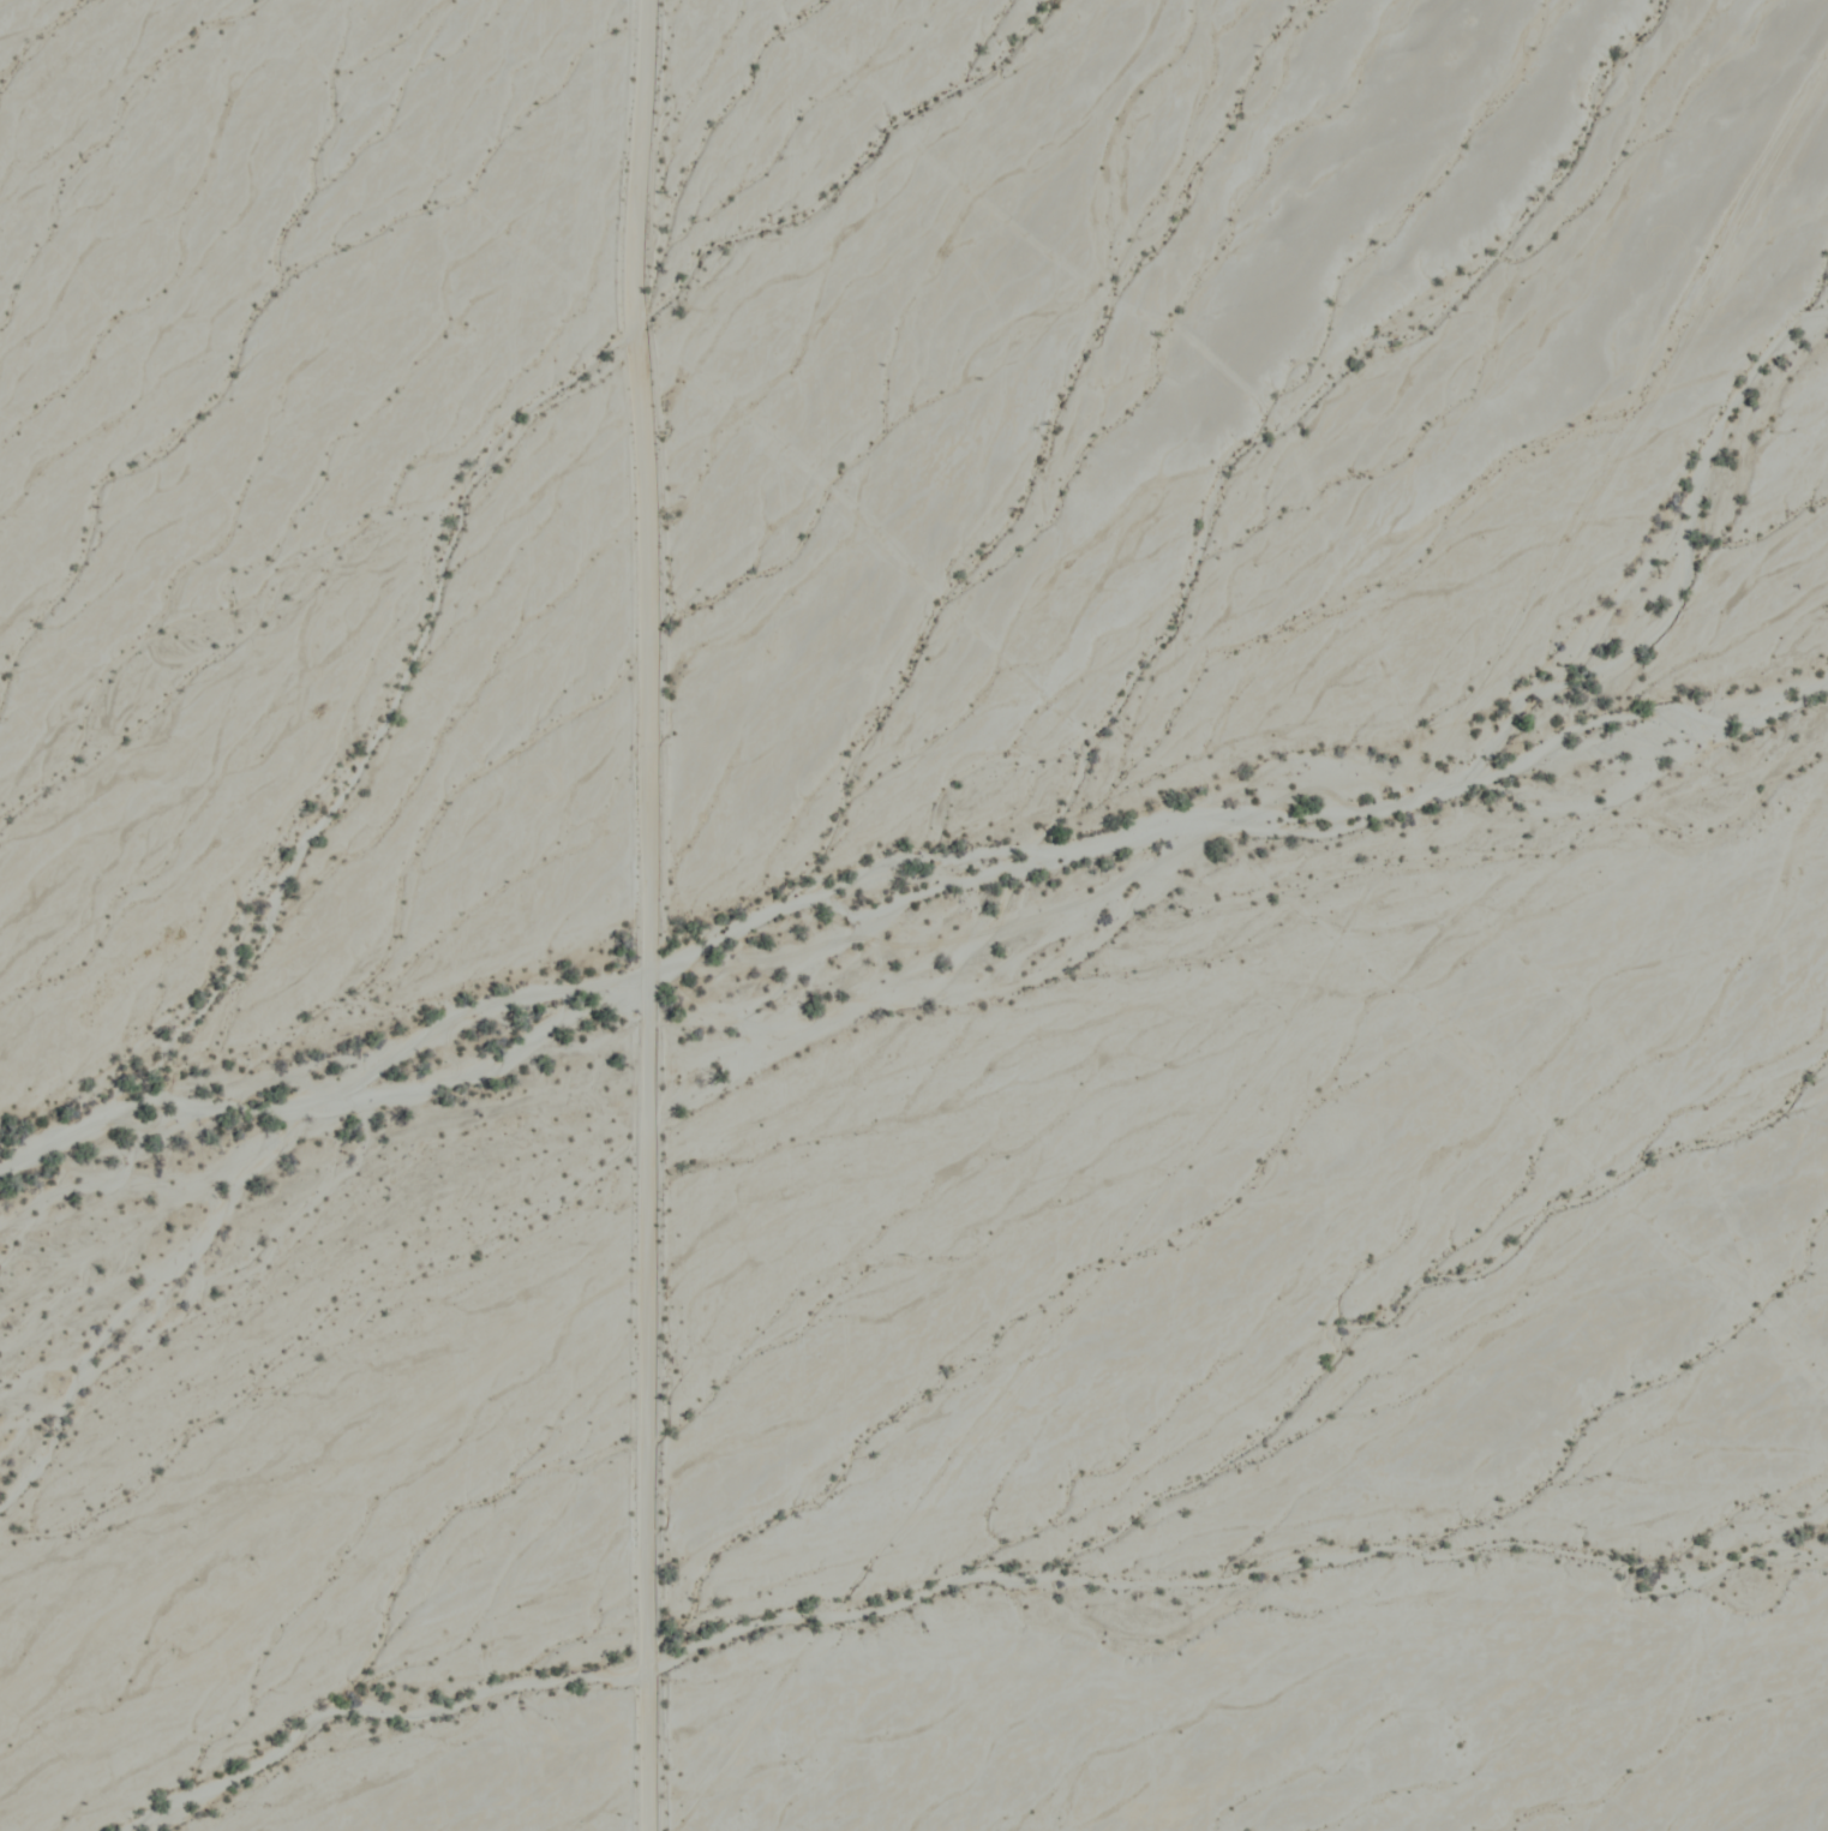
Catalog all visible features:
road: (642, 915)

